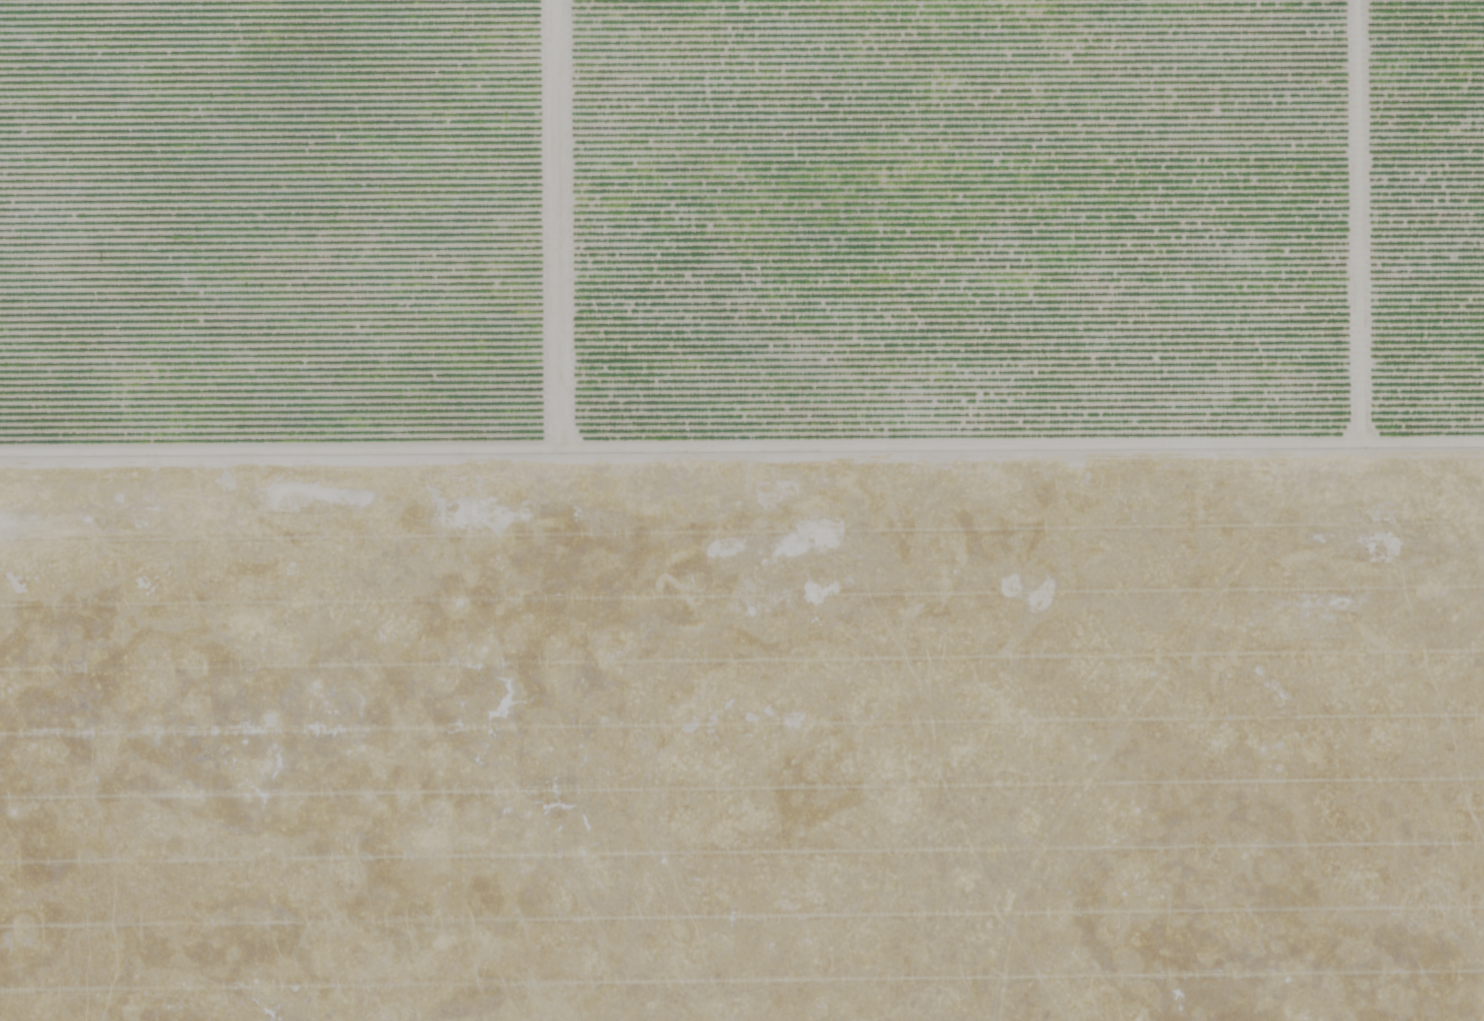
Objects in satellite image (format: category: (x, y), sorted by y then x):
crop: (742, 510)

